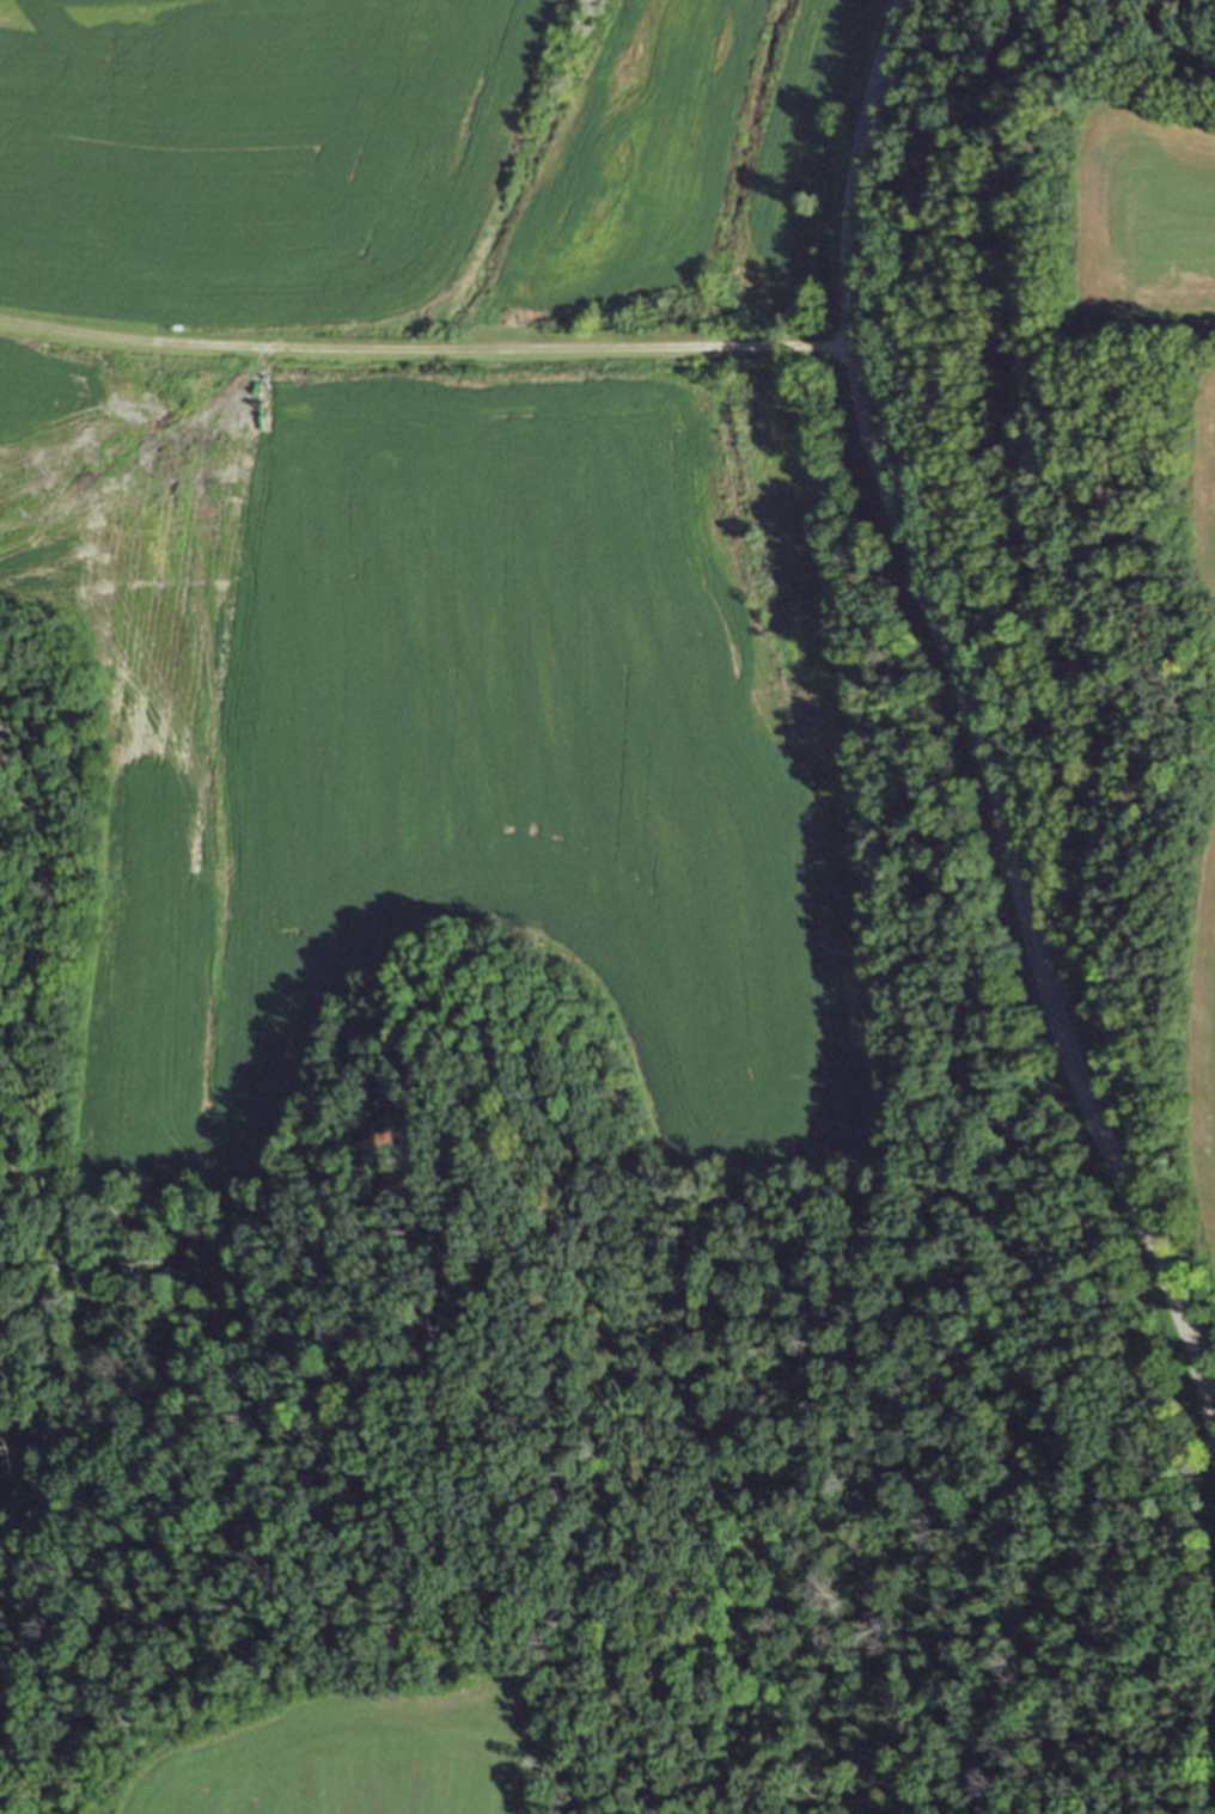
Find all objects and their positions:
road: (427, 349)
road: (976, 721)

